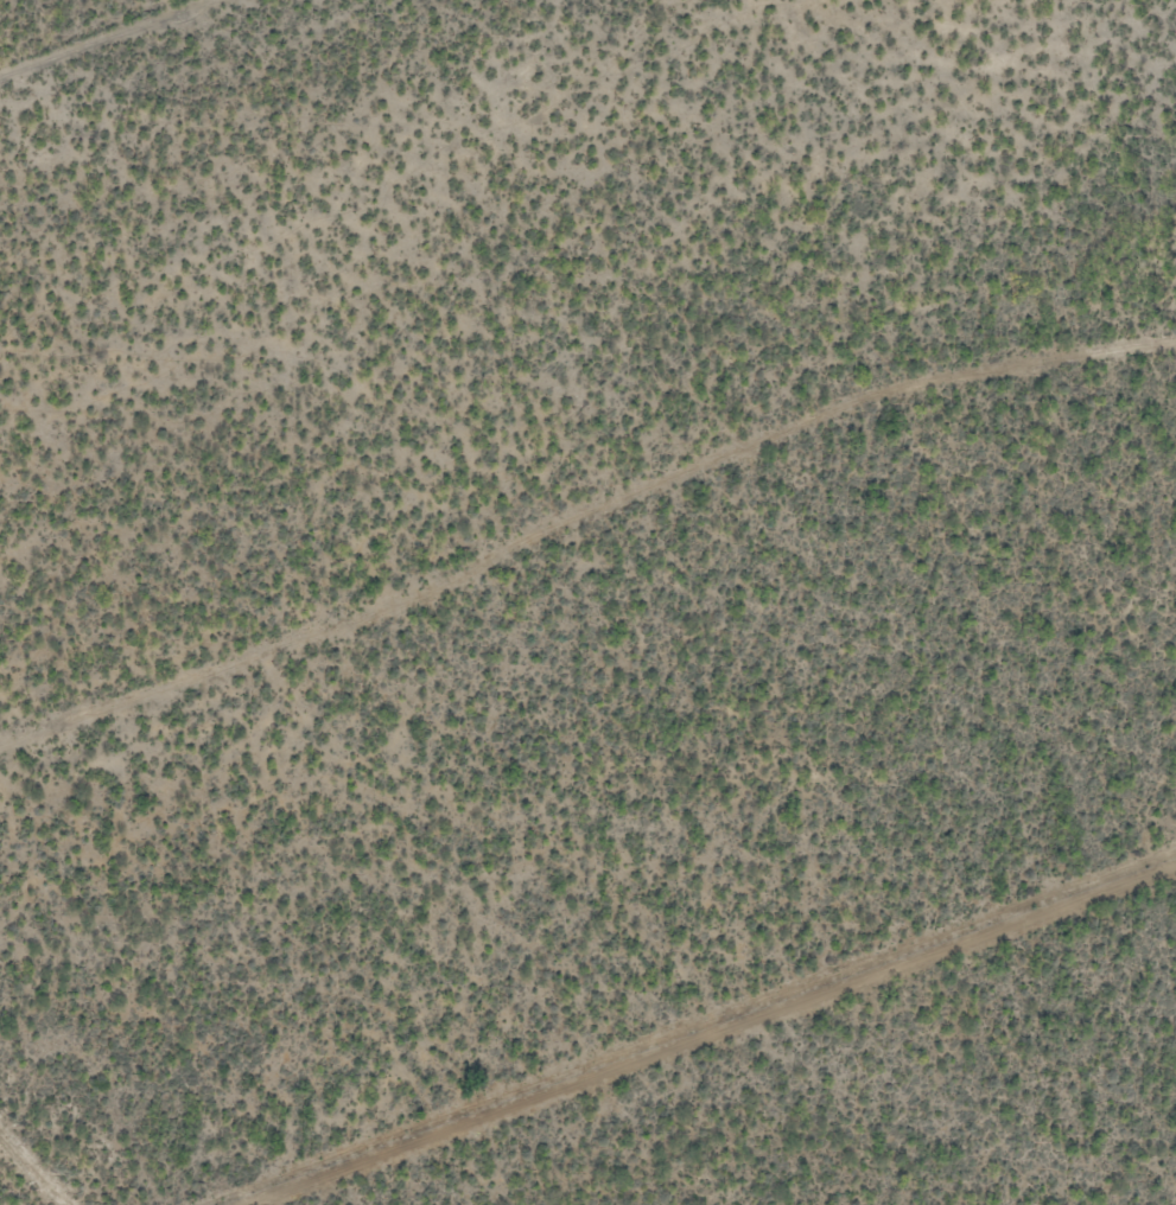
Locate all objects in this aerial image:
road: (36, 1168)

